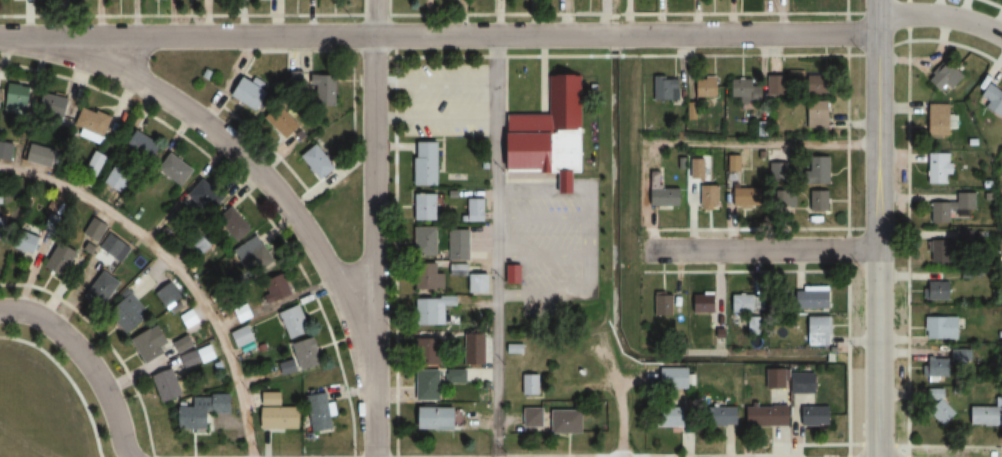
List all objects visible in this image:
road: (941, 15)
road: (439, 36)
building: (941, 77)
building: (820, 83)
building: (327, 88)
building: (667, 88)
building: (708, 88)
building: (780, 90)
building: (748, 91)
building: (251, 93)
building: (20, 99)
building: (988, 100)
building: (56, 106)
building: (820, 116)
building: (934, 120)
building: (284, 122)
building: (94, 125)
building: (549, 134)
road: (762, 145)
building: (145, 146)
building: (6, 150)
road: (239, 155)
building: (98, 161)
building: (320, 161)
building: (429, 162)
building: (178, 168)
building: (936, 168)
building: (824, 170)
building: (780, 171)
building: (663, 192)
building: (711, 195)
building: (209, 196)
building: (750, 196)
building: (787, 197)
building: (821, 200)
building: (427, 207)
building: (949, 207)
building: (478, 209)
building: (52, 222)
building: (236, 224)
building: (95, 228)
road: (372, 228)
road: (879, 228)
building: (427, 238)
building: (29, 242)
building: (460, 244)
building: (116, 246)
road: (497, 246)
road: (760, 249)
building: (936, 251)
building: (257, 256)
building: (63, 258)
road: (175, 268)
building: (514, 274)
building: (473, 278)
building: (433, 279)
building: (105, 288)
building: (933, 291)
building: (169, 295)
building: (807, 297)
building: (736, 302)
building: (699, 303)
building: (661, 304)
building: (440, 310)
building: (129, 311)
building: (190, 317)
building: (297, 321)
building: (937, 327)
building: (813, 330)
building: (243, 336)
building: (152, 344)
building: (183, 344)
building: (474, 348)
building: (430, 349)
building: (310, 353)
building: (192, 359)
road: (87, 360)
building: (938, 363)
building: (289, 366)
building: (457, 376)
road: (69, 379)
building: (797, 383)
building: (527, 384)
building: (168, 385)
building: (431, 386)
building: (204, 410)
building: (939, 411)
building: (280, 413)
building: (323, 413)
building: (809, 415)
building: (761, 416)
building: (981, 416)
building: (527, 417)
building: (667, 417)
building: (716, 417)
building: (439, 418)
road: (619, 419)
building: (560, 421)
road: (101, 455)

